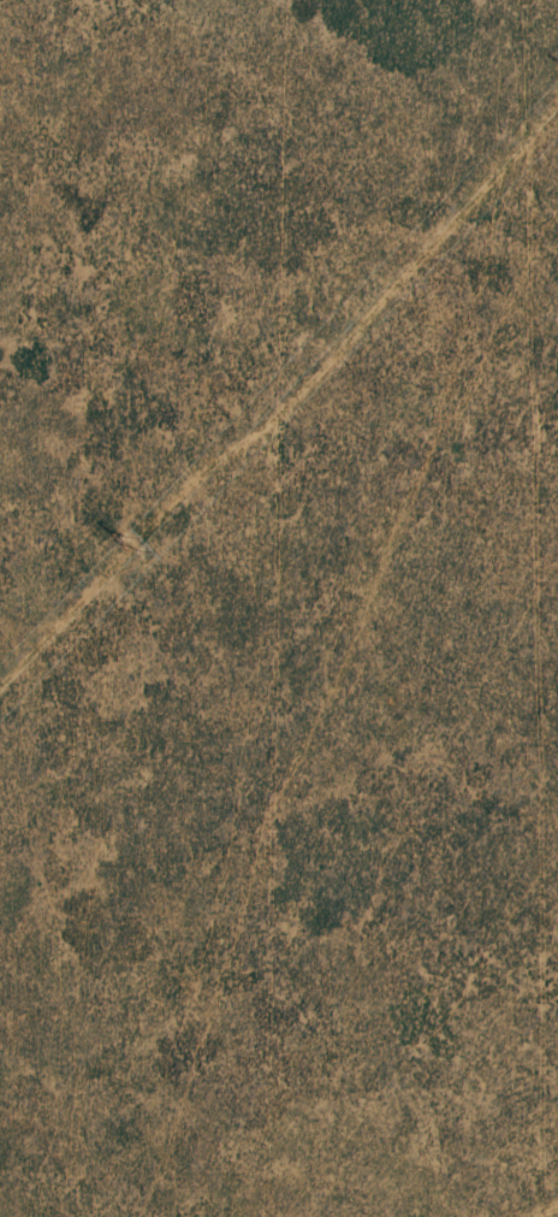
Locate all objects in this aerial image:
power tower: (133, 545)

